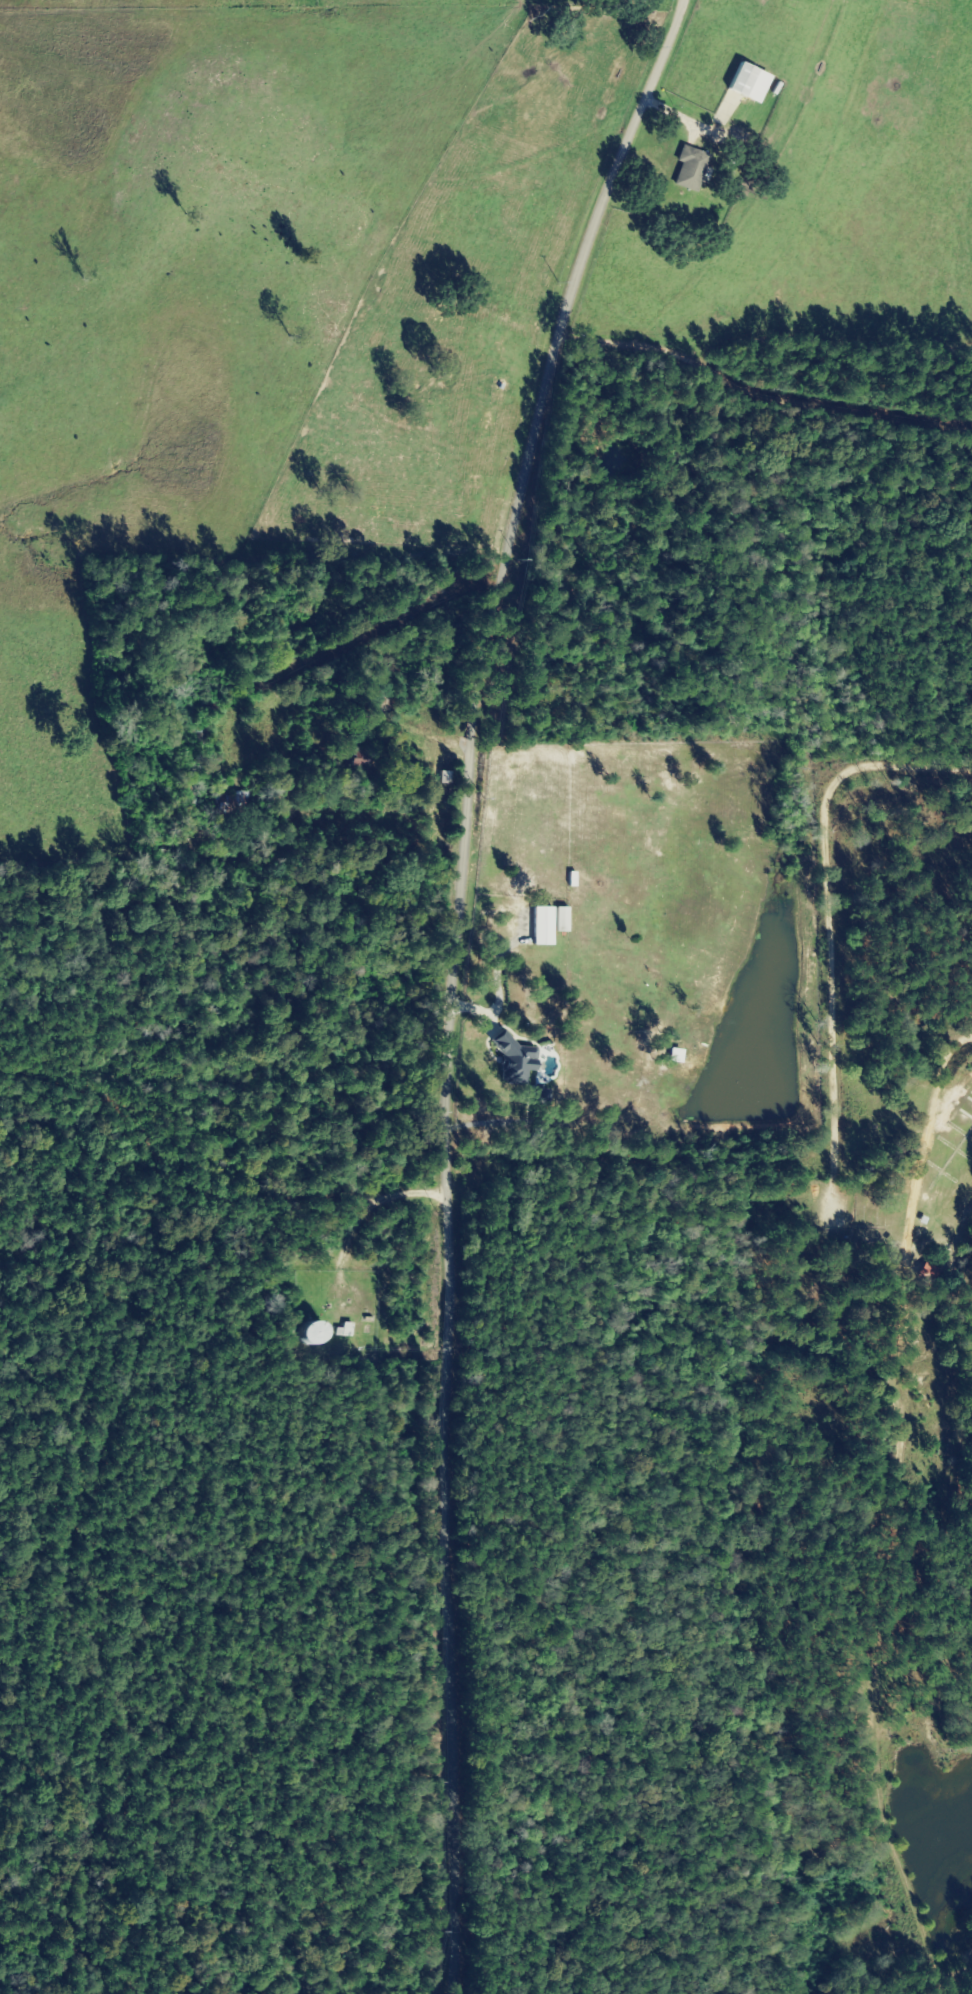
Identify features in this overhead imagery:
building: (739, 80)
building: (689, 168)
road: (525, 339)
road: (683, 508)
road: (283, 697)
building: (385, 705)
building: (207, 707)
building: (198, 736)
building: (239, 799)
building: (926, 1272)
building: (311, 1333)
road: (436, 1344)

